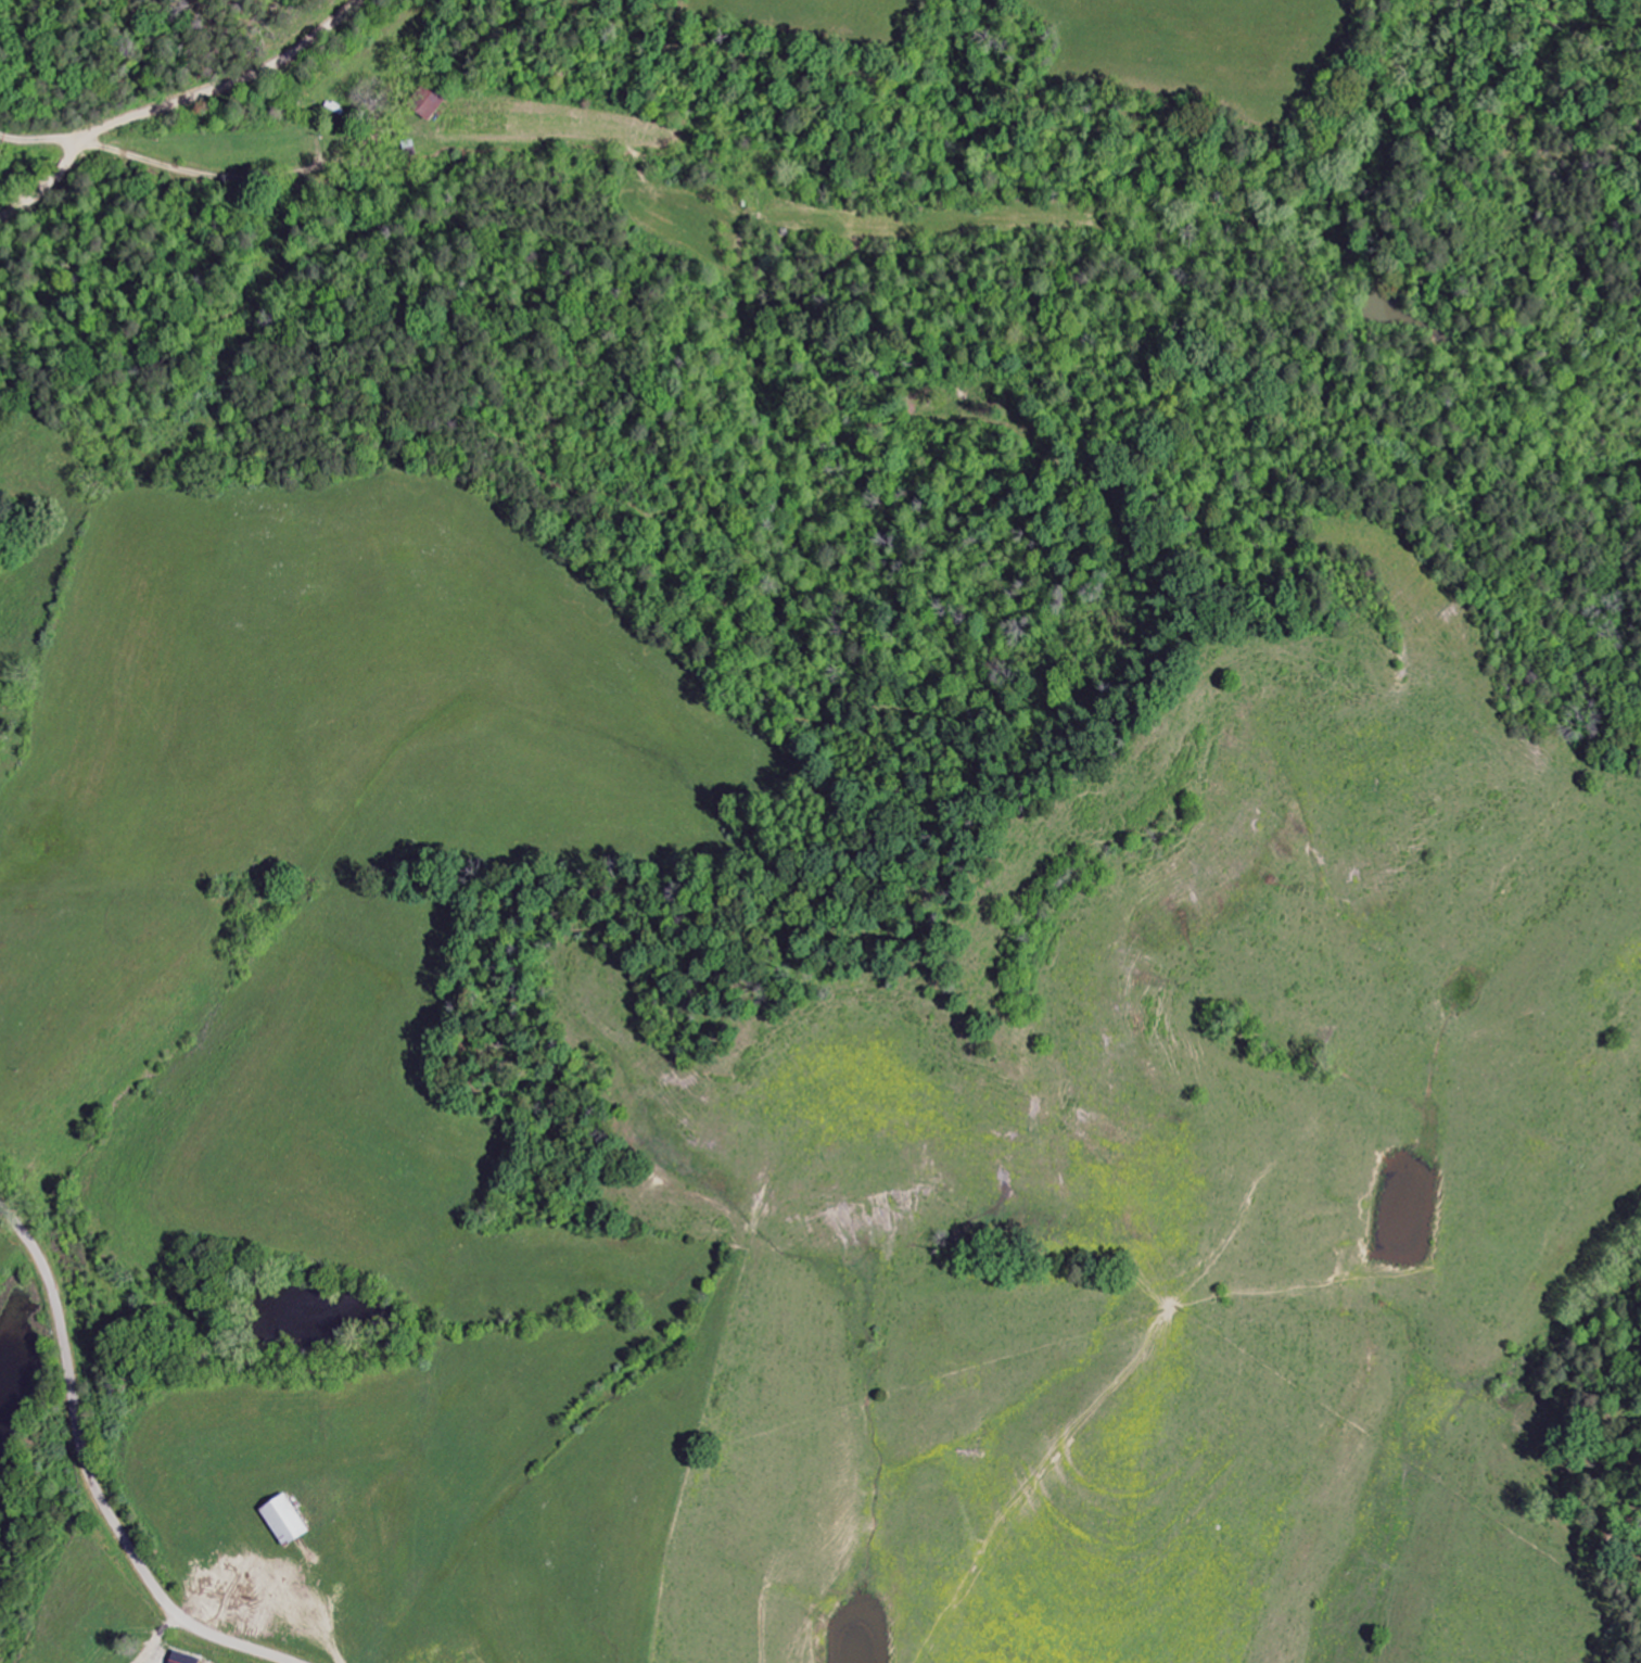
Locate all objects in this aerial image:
road: (174, 102)
road: (91, 1474)
building: (279, 1521)
building: (180, 1658)

